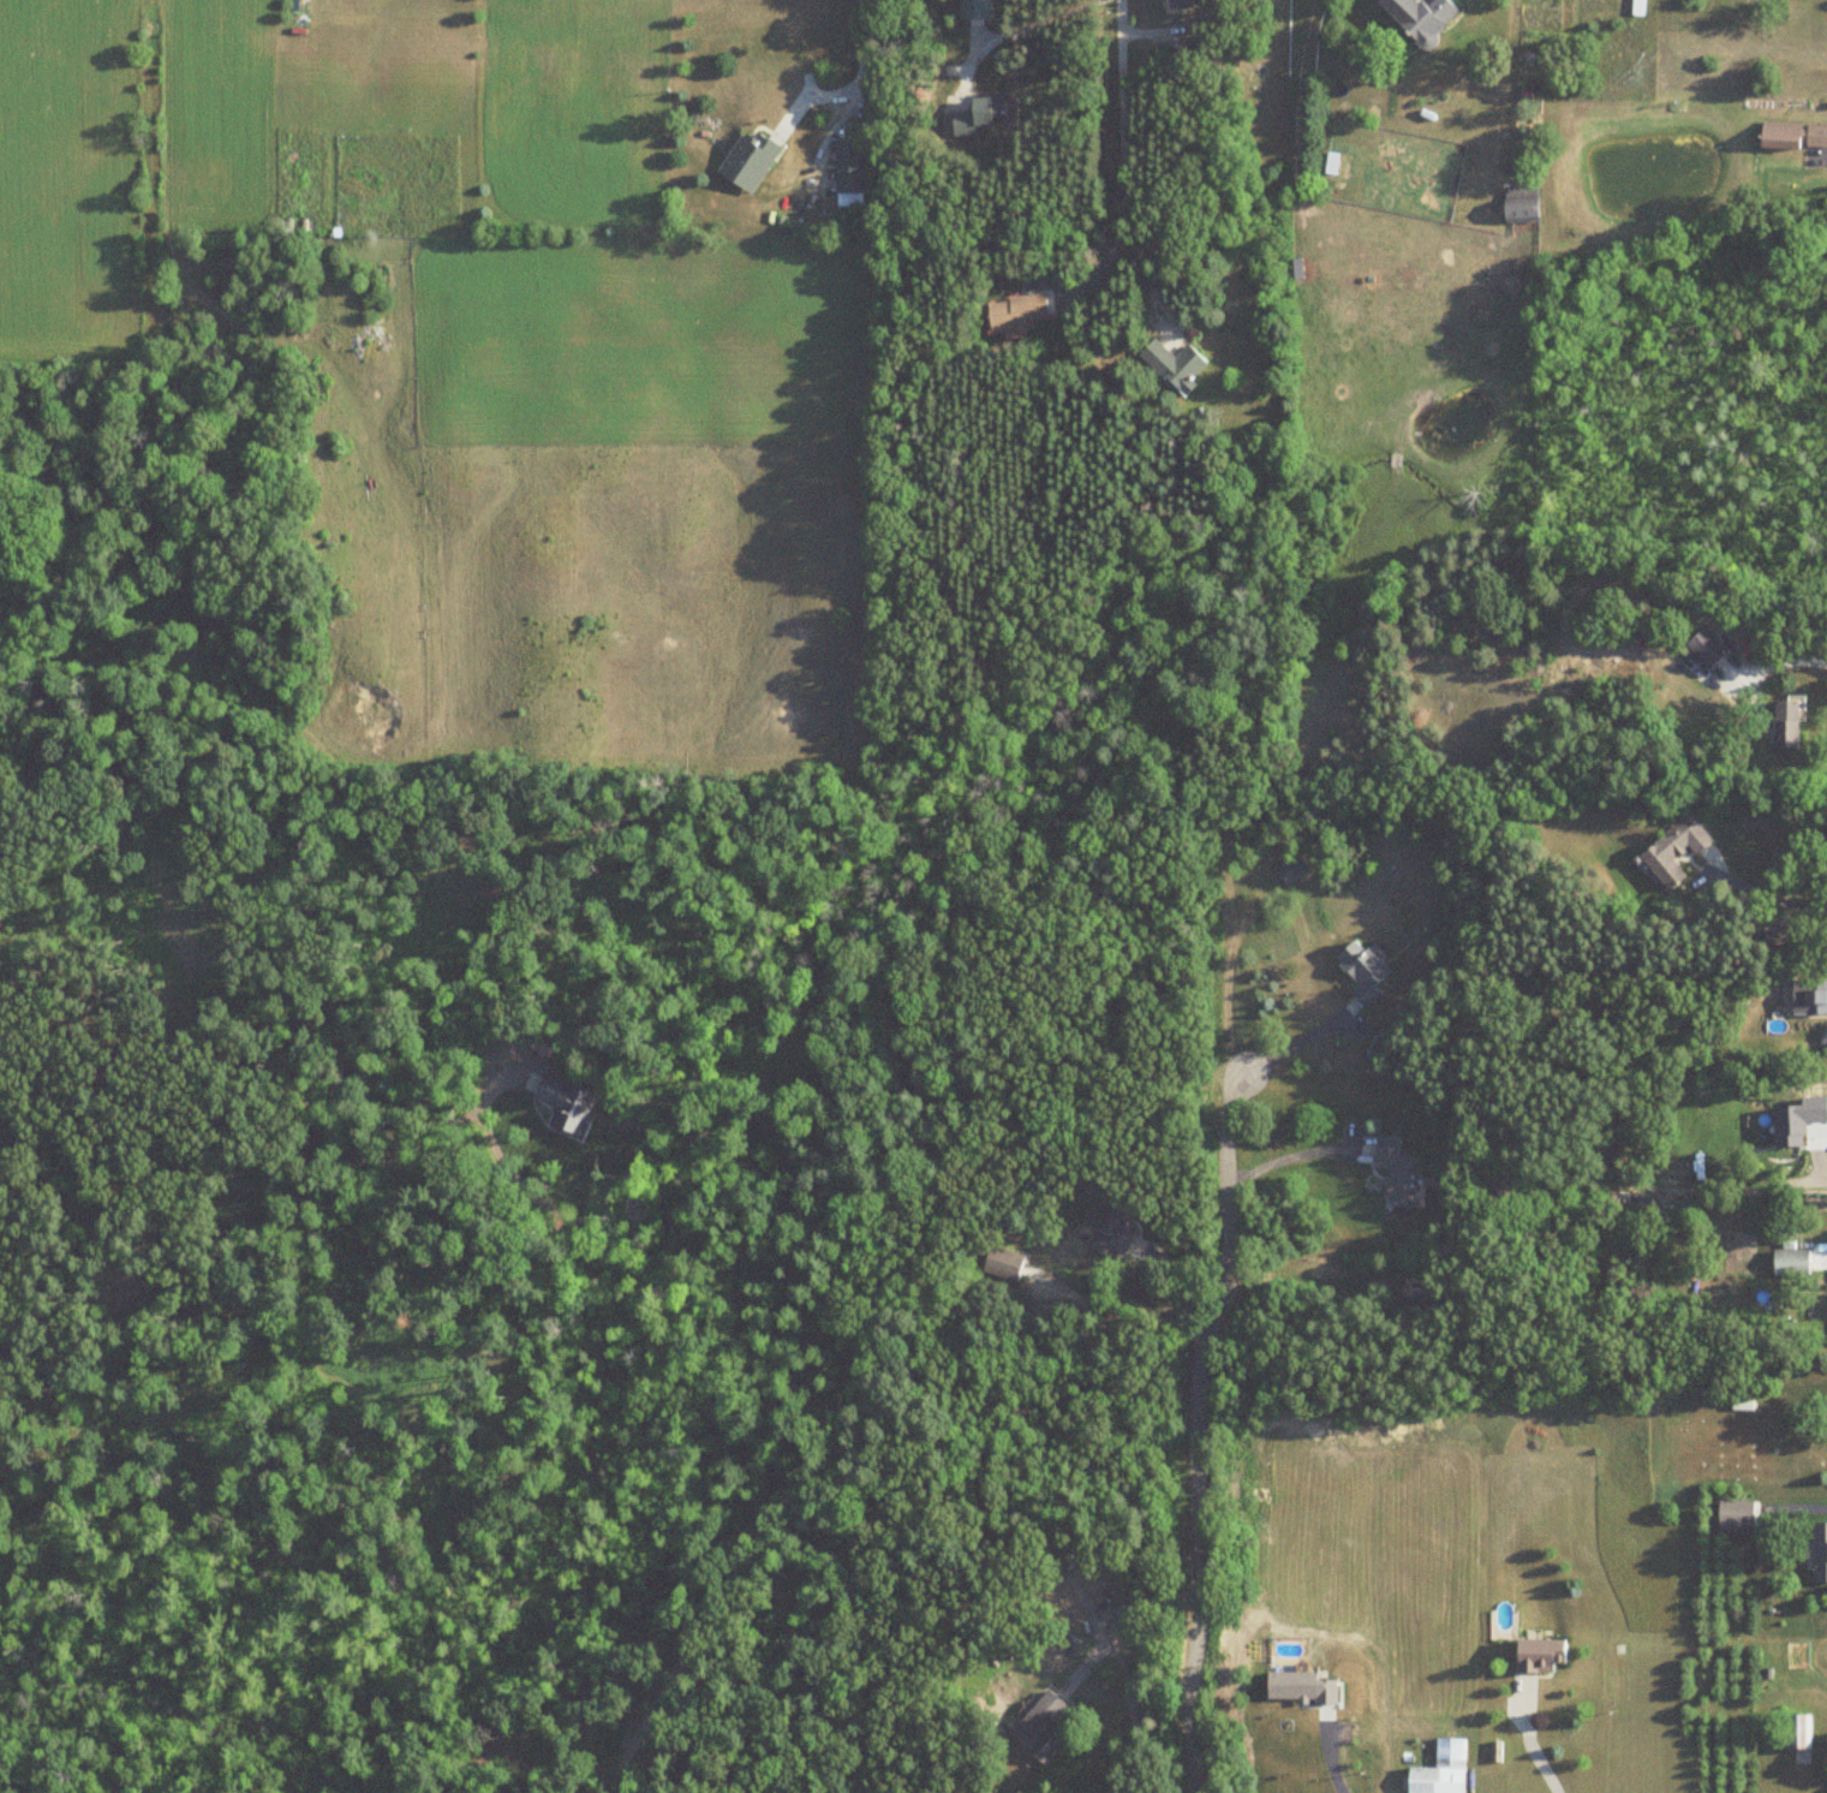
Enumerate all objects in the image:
building: (1181, 2)
building: (1419, 17)
road: (1020, 23)
road: (853, 83)
building: (977, 114)
road: (1123, 125)
building: (1793, 135)
building: (747, 160)
building: (848, 173)
building: (1519, 203)
building: (1016, 310)
building: (1174, 364)
building: (1707, 648)
road: (1787, 662)
building: (1785, 721)
building: (1672, 851)
building: (1290, 868)
road: (1783, 898)
building: (1779, 934)
building: (1360, 969)
road: (1229, 973)
building: (1815, 996)
building: (1823, 1038)
road: (1297, 1042)
building: (566, 1100)
building: (1817, 1137)
road: (1288, 1157)
building: (1396, 1170)
building: (1113, 1225)
building: (1790, 1261)
building: (1002, 1263)
road: (1183, 1288)
building: (1415, 1289)
road: (775, 1374)
road: (1196, 1429)
building: (1735, 1517)
building: (1819, 1551)
building: (1065, 1561)
building: (1538, 1655)
road: (1130, 1697)
building: (1040, 1728)
building: (1801, 1737)
road: (1530, 1739)
road: (1329, 1756)
building: (1439, 1770)

